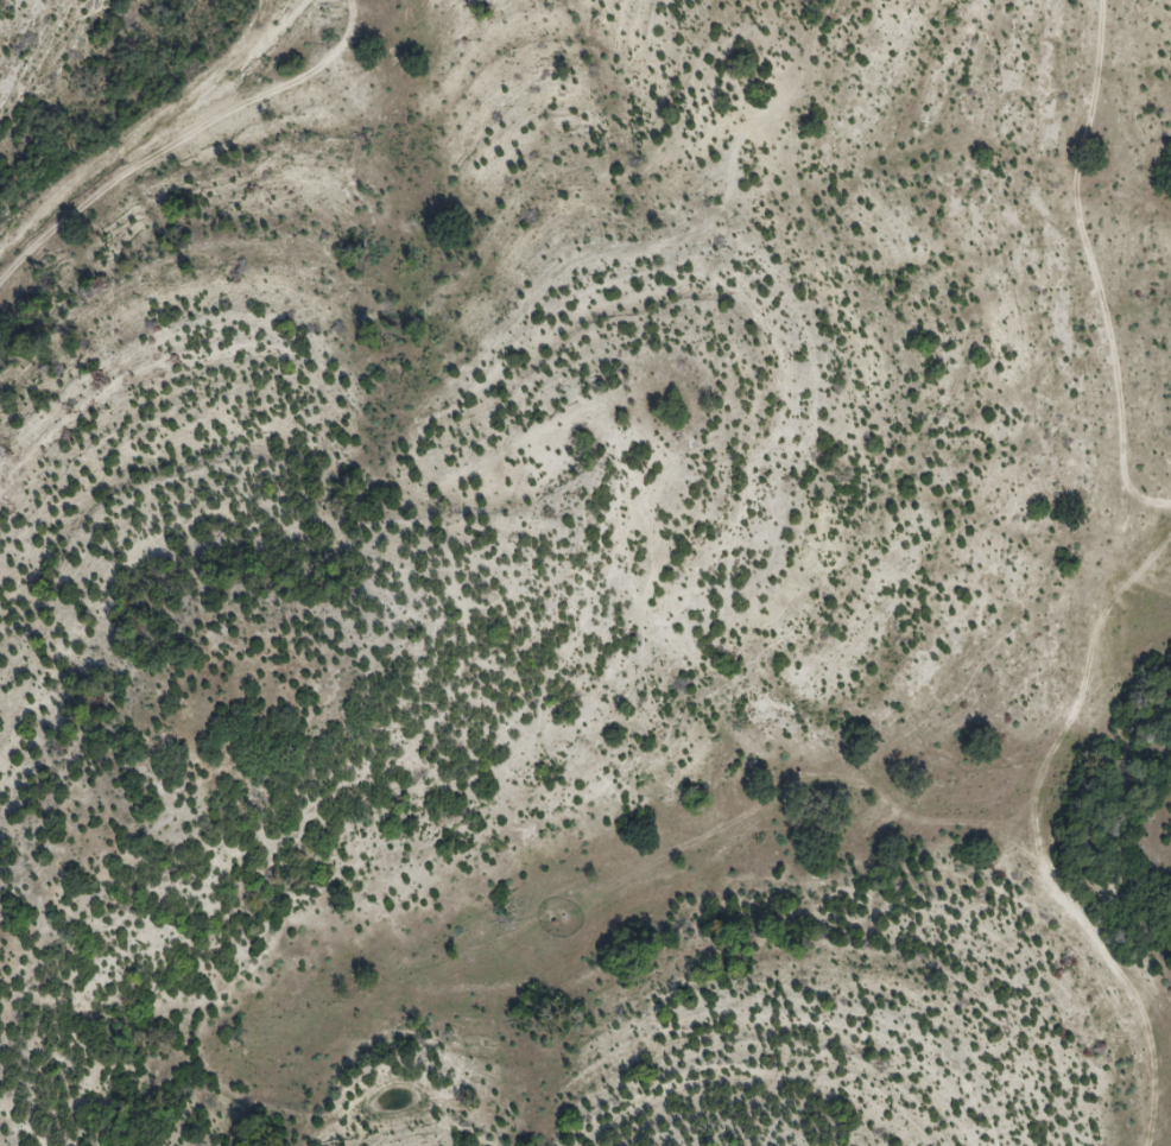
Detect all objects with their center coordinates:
road: (122, 157)

